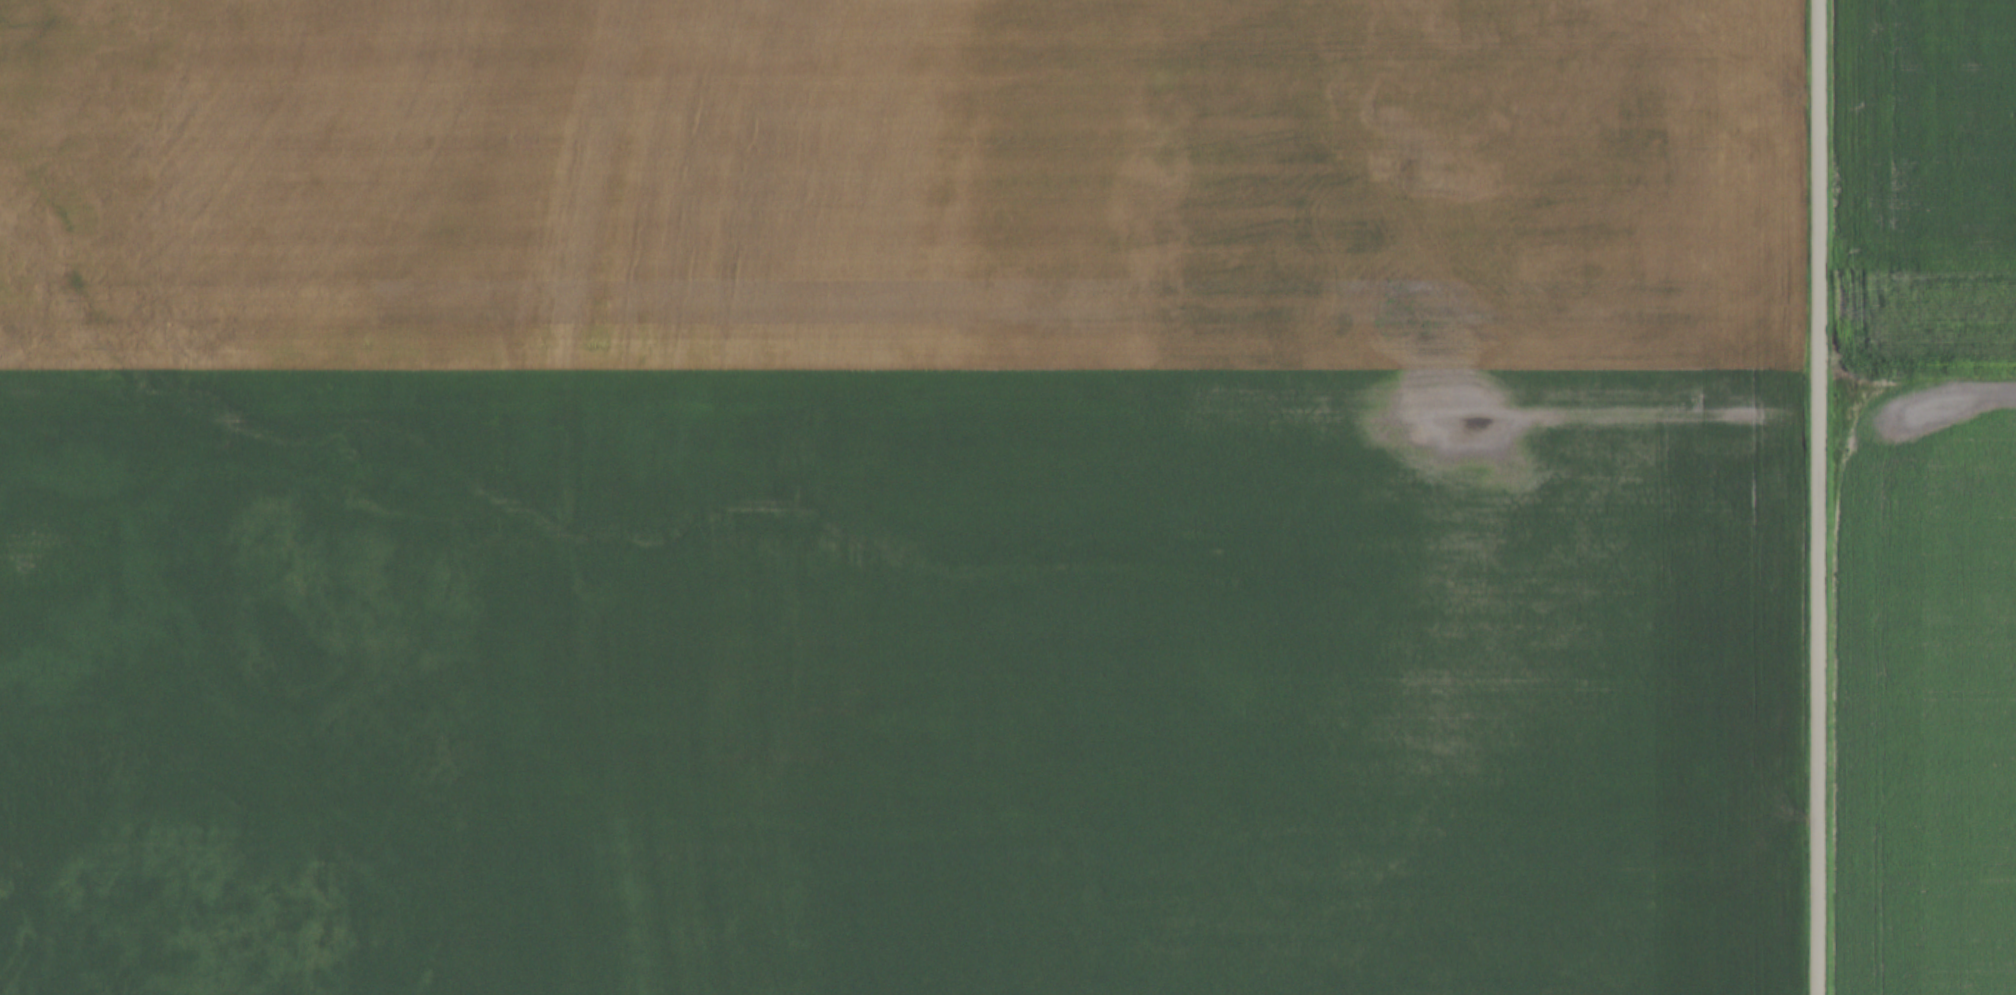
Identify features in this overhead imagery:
road: (1818, 497)

